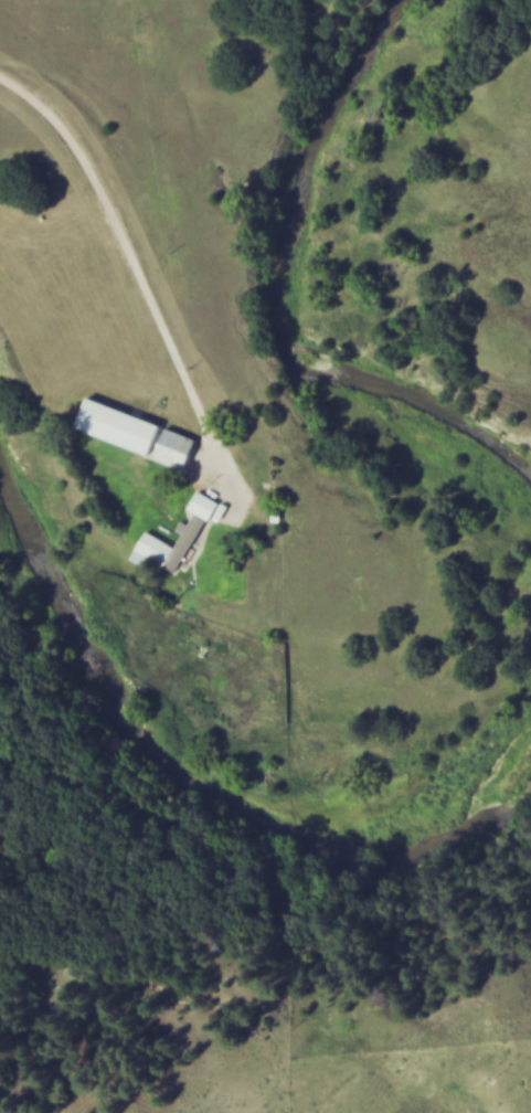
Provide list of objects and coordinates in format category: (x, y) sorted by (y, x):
road: (132, 278)
building: (141, 434)
building: (197, 532)

